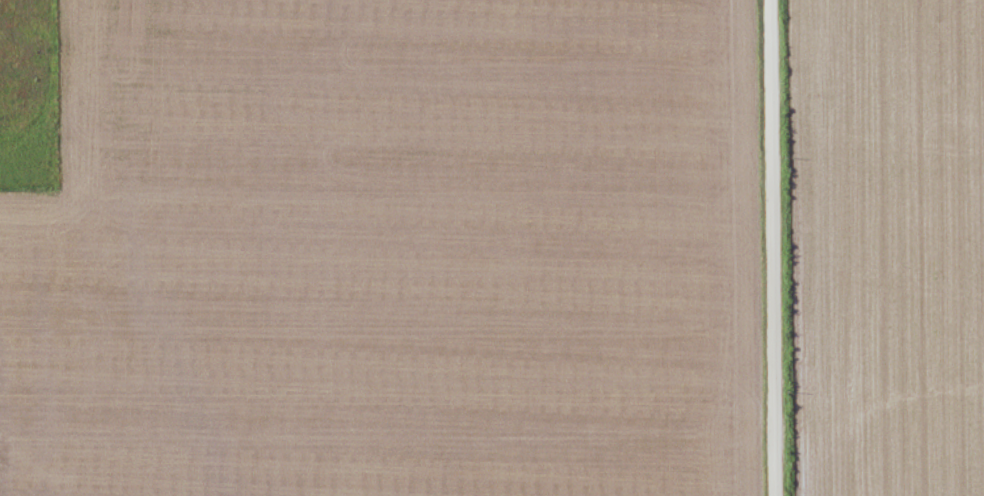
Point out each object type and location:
road: (772, 248)

